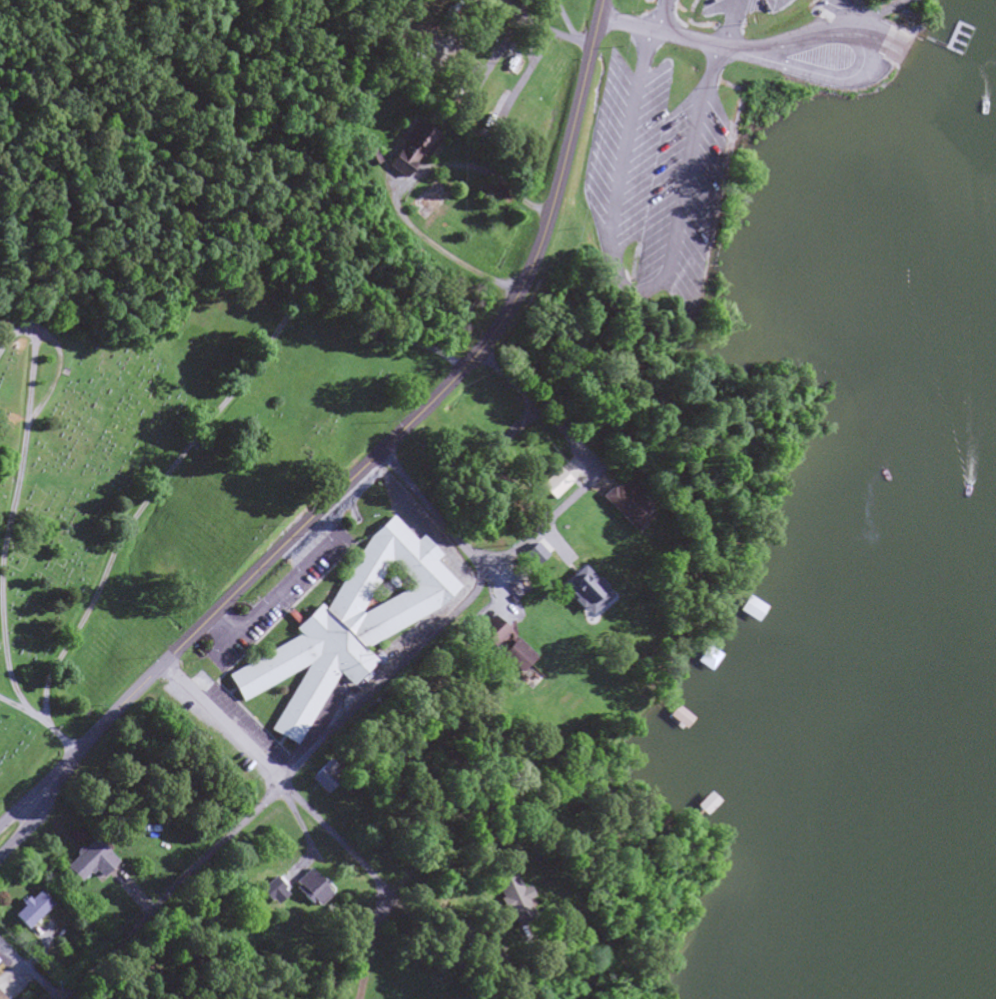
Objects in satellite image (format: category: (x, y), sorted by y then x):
road: (727, 24)
road: (658, 34)
road: (887, 50)
road: (876, 54)
building: (409, 149)
road: (394, 436)
road: (592, 463)
park: (162, 478)
building: (550, 485)
building: (617, 504)
road: (433, 511)
building: (745, 610)
building: (345, 626)
building: (511, 657)
building: (674, 719)
road: (278, 791)
road: (24, 811)
road: (26, 824)
road: (330, 832)
building: (87, 863)
building: (307, 887)
building: (273, 897)
building: (509, 902)
building: (28, 911)
road: (27, 969)
building: (0, 998)

